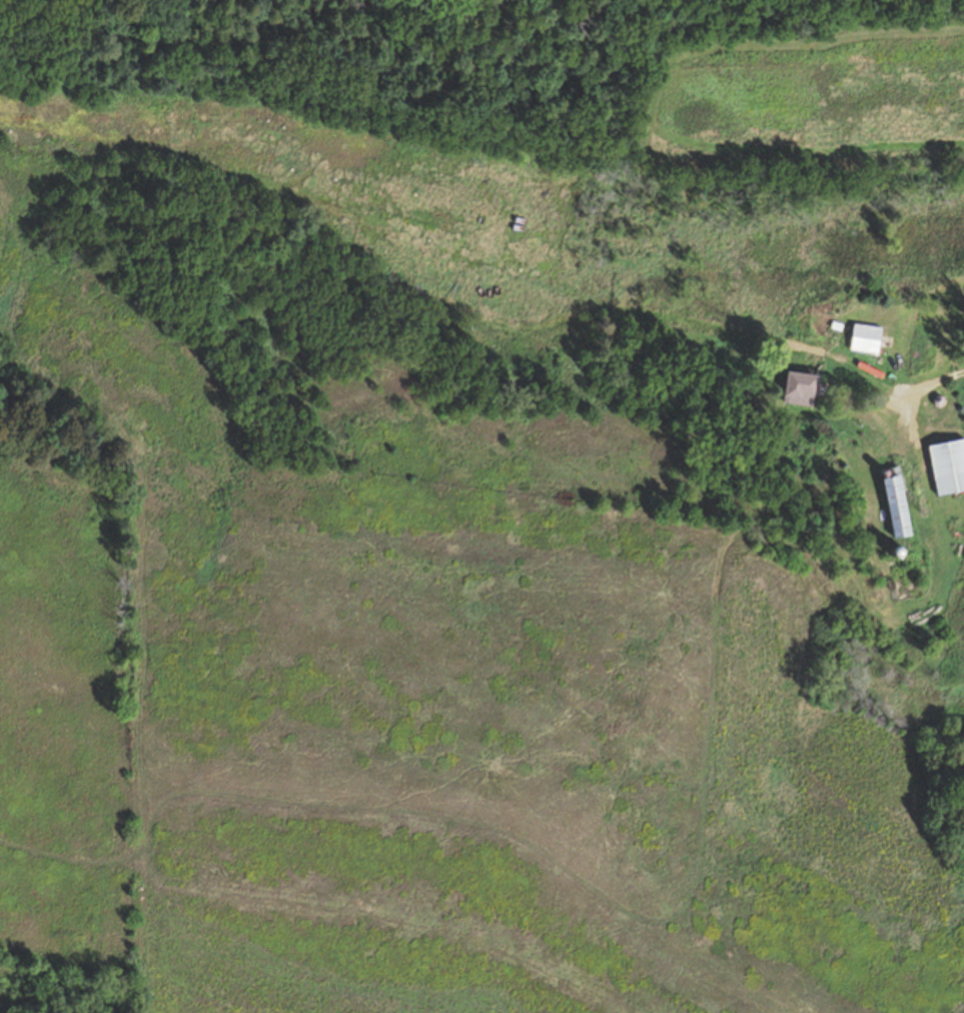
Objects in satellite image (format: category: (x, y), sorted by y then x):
building: (867, 339)
road: (937, 382)
building: (801, 385)
building: (949, 467)
building: (899, 503)

